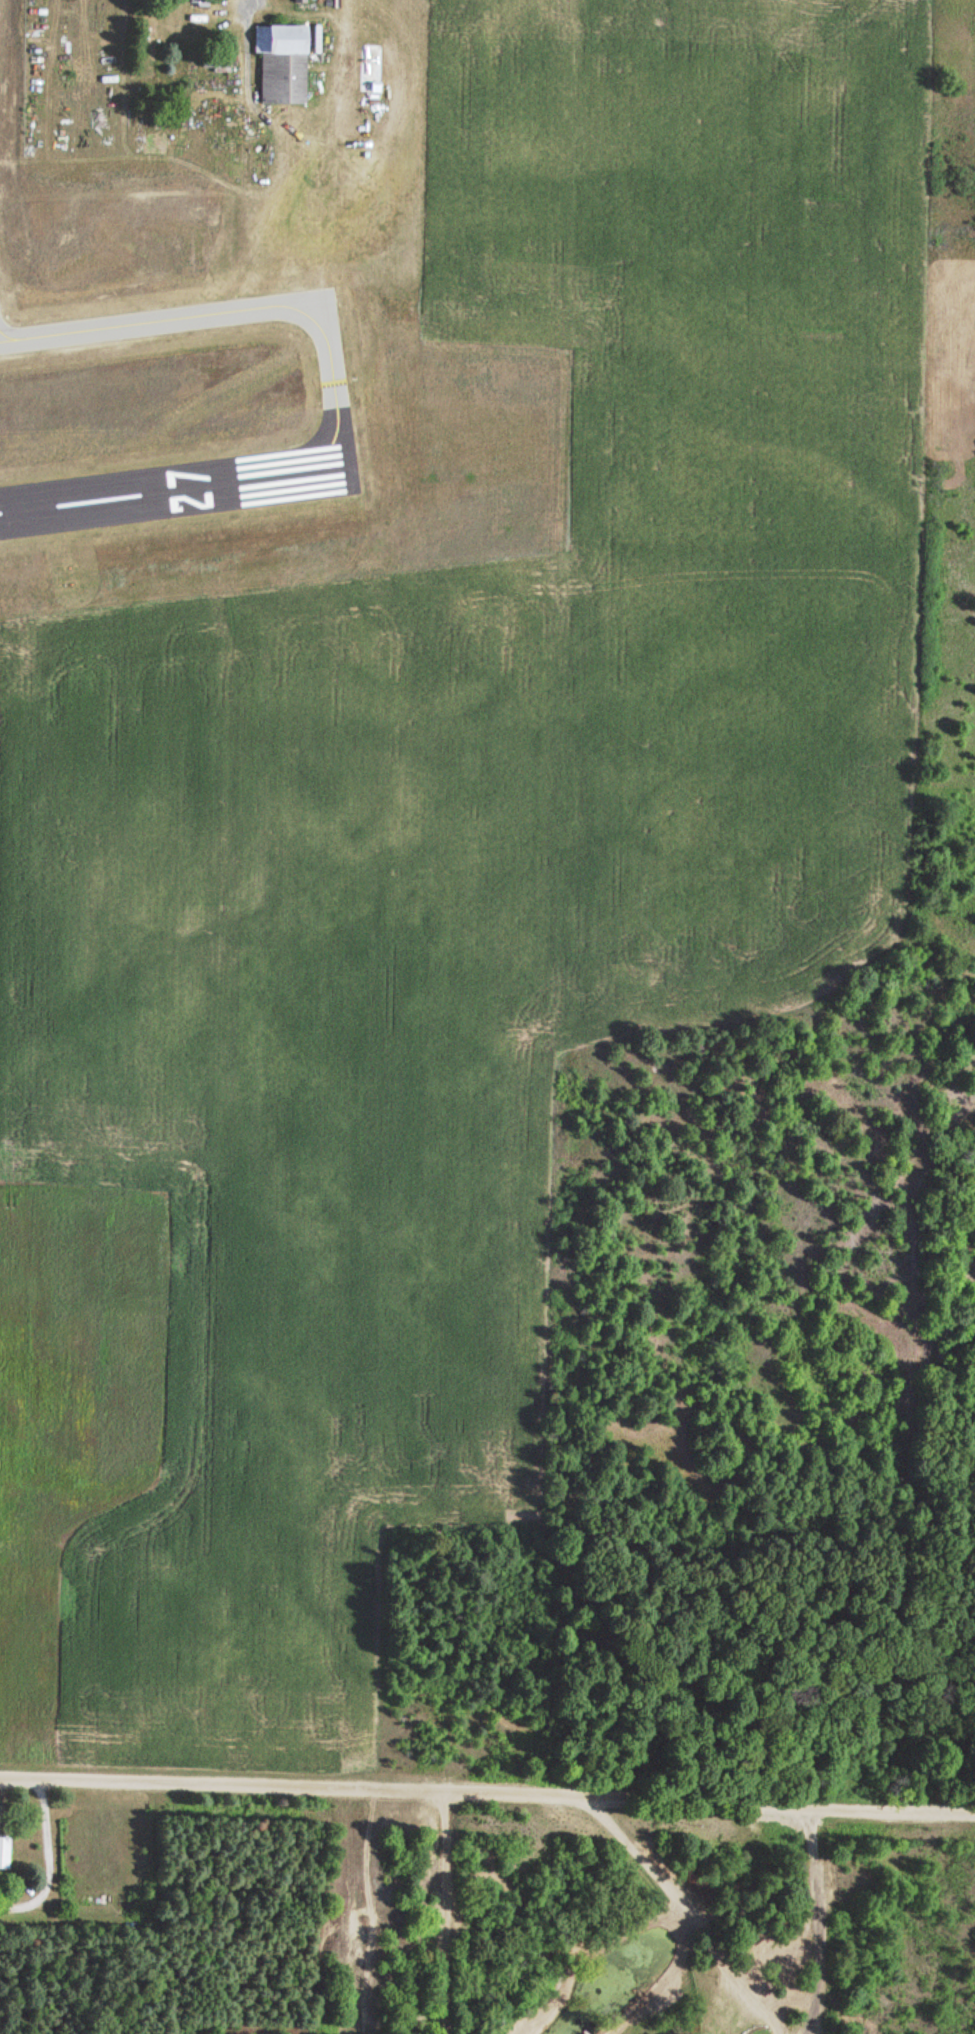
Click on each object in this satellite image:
building: (281, 63)
airport taxiway: (233, 312)
airport: (222, 332)
airport runway: (174, 490)
road: (487, 1776)
building: (4, 1854)
road: (645, 1912)

